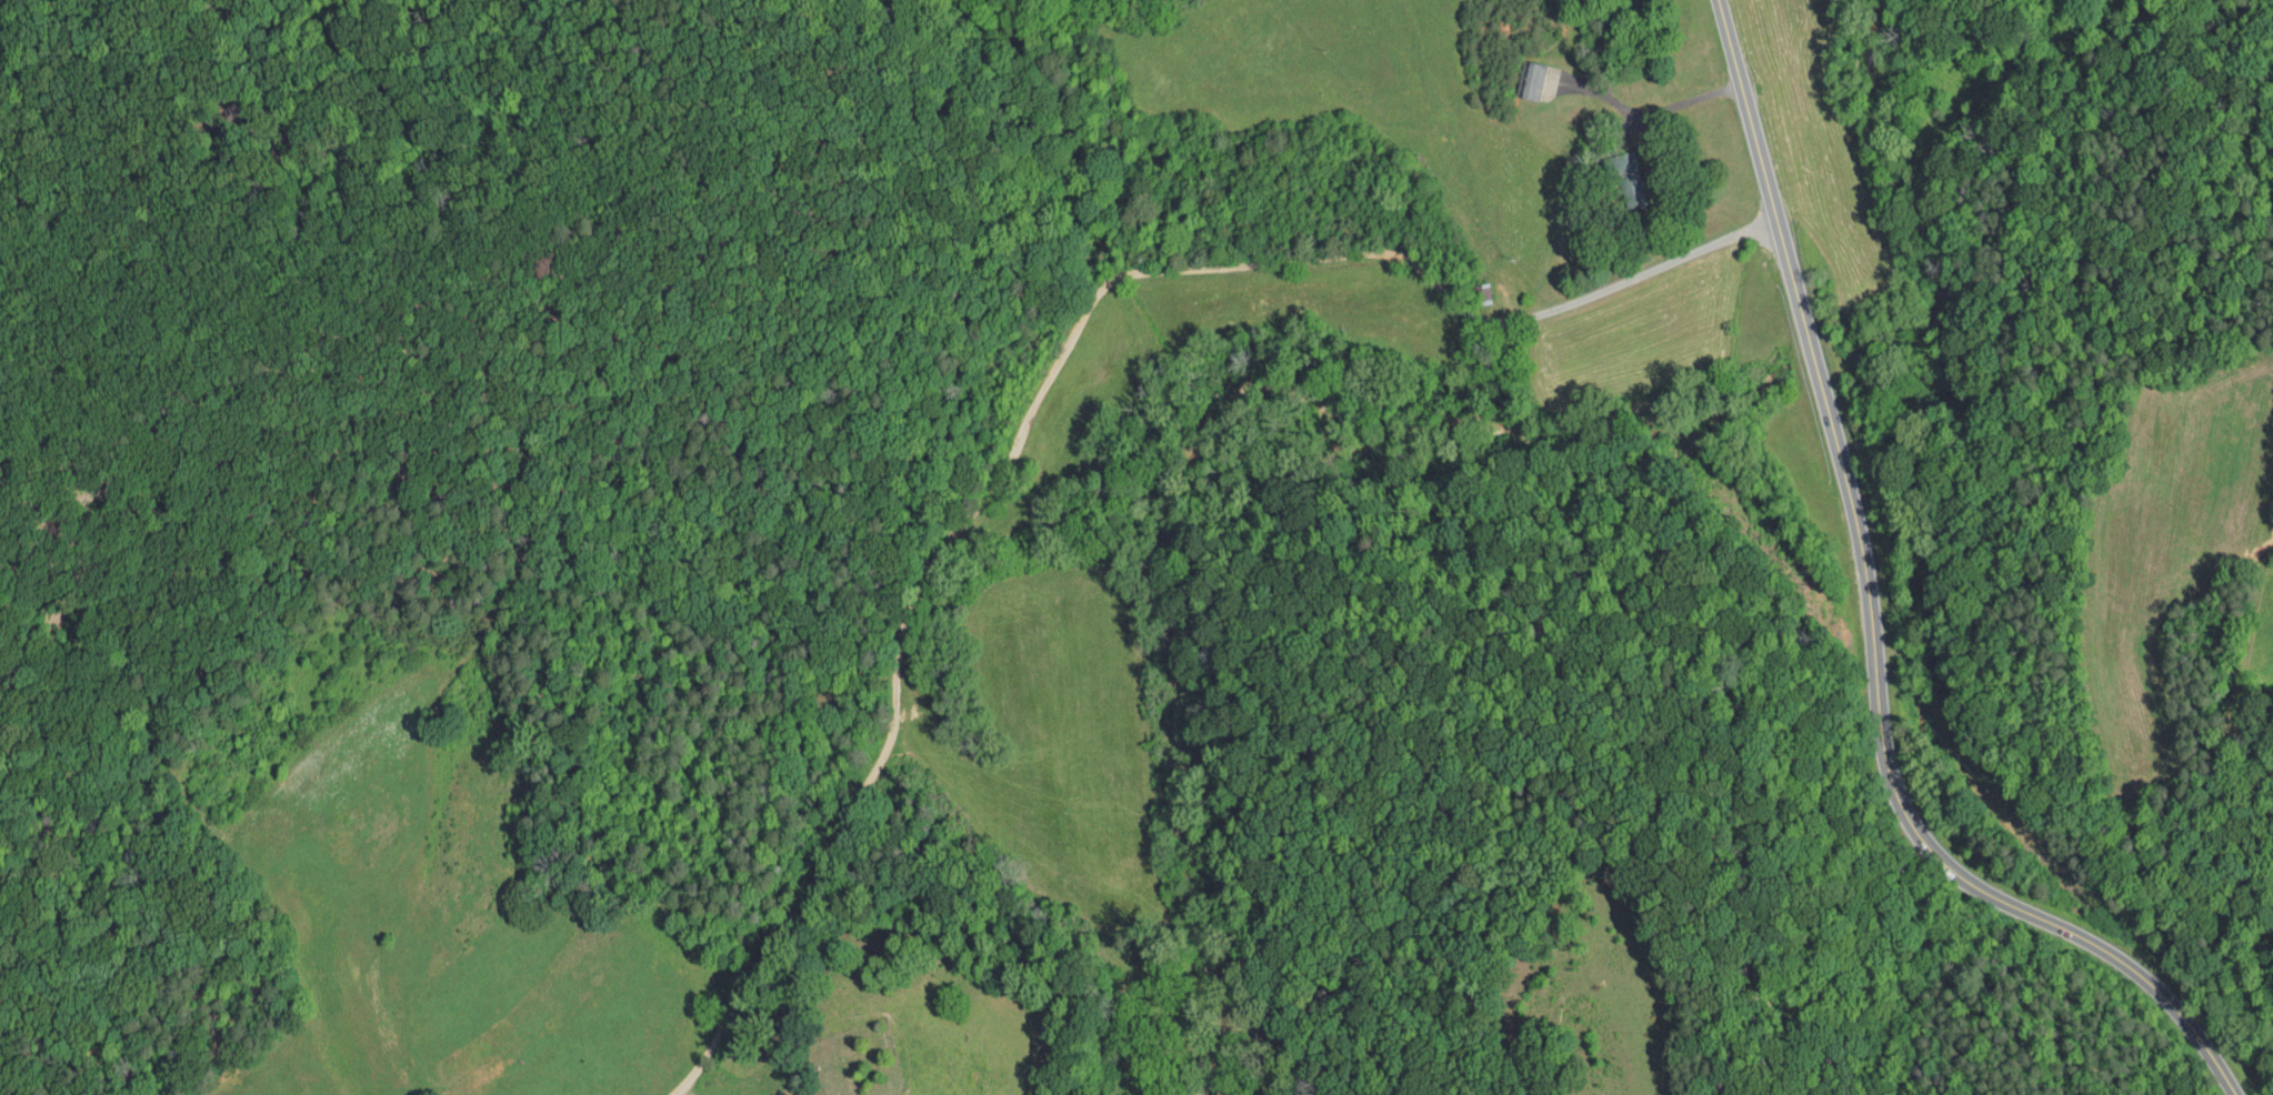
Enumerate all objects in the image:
building: (1519, 73)
road: (1645, 113)
building: (1613, 173)
road: (2263, 349)
road: (1050, 372)
road: (2181, 574)
road: (1871, 622)

